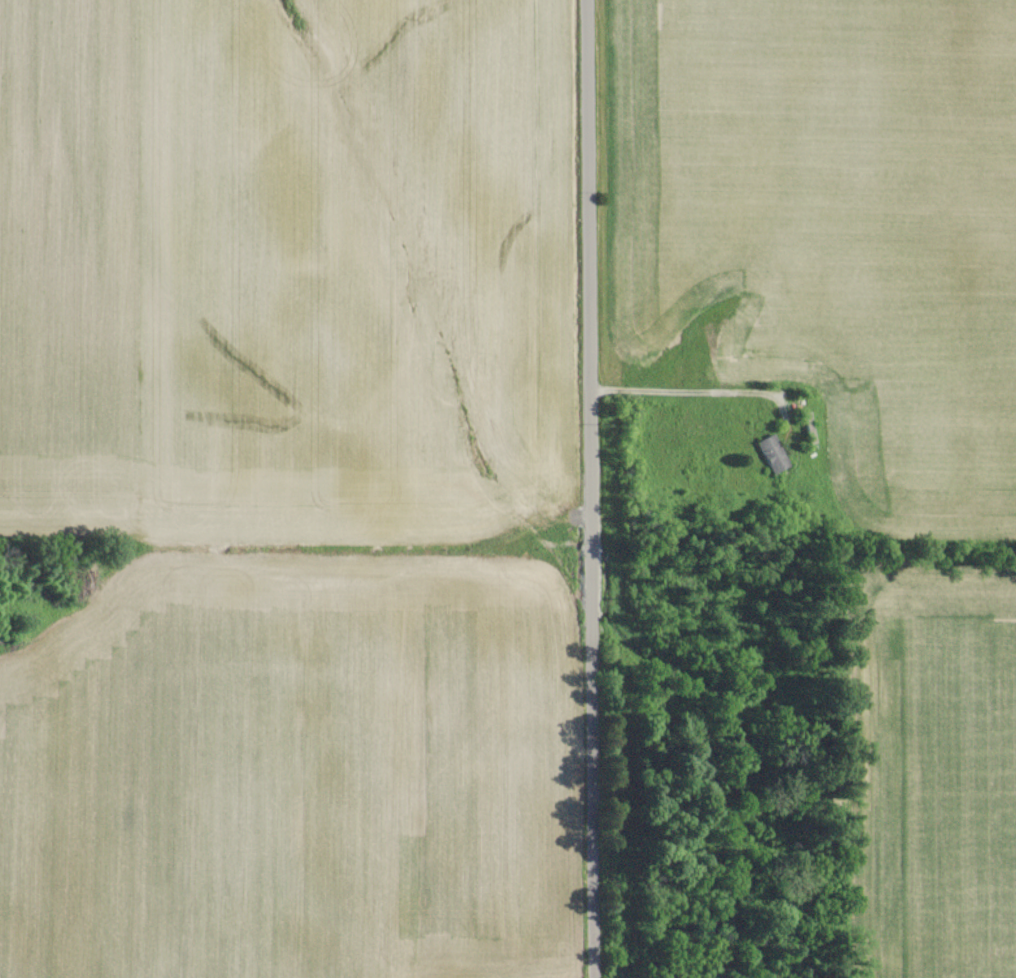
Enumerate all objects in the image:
road: (700, 394)
building: (772, 453)
road: (594, 489)

